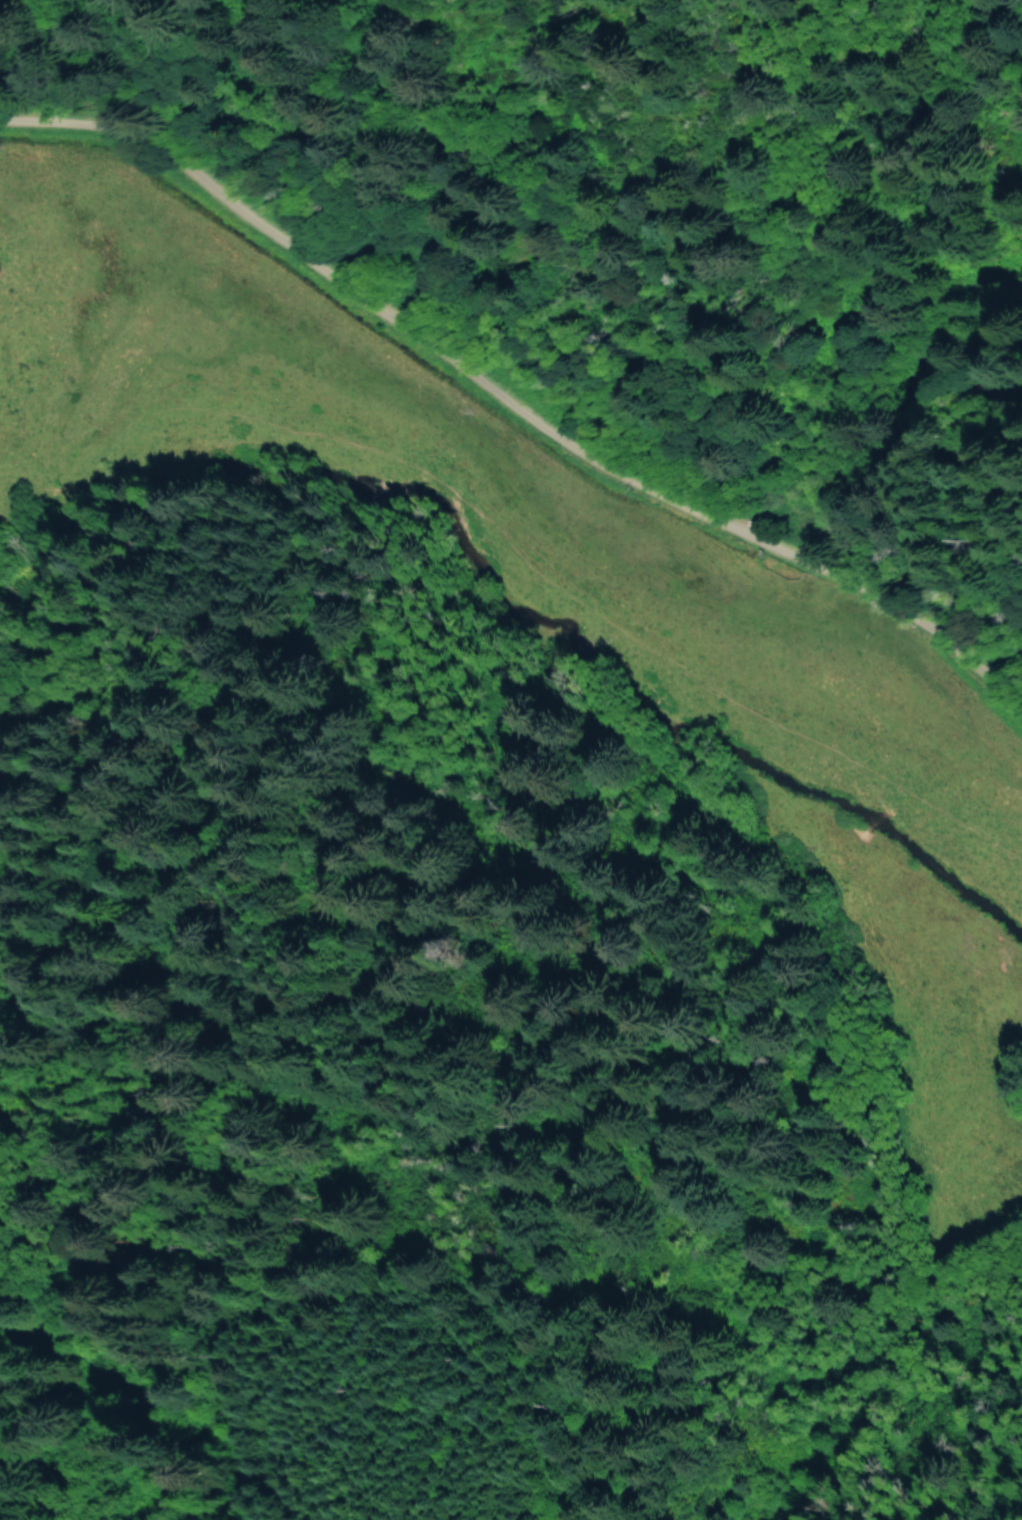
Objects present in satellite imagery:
road: (510, 404)

